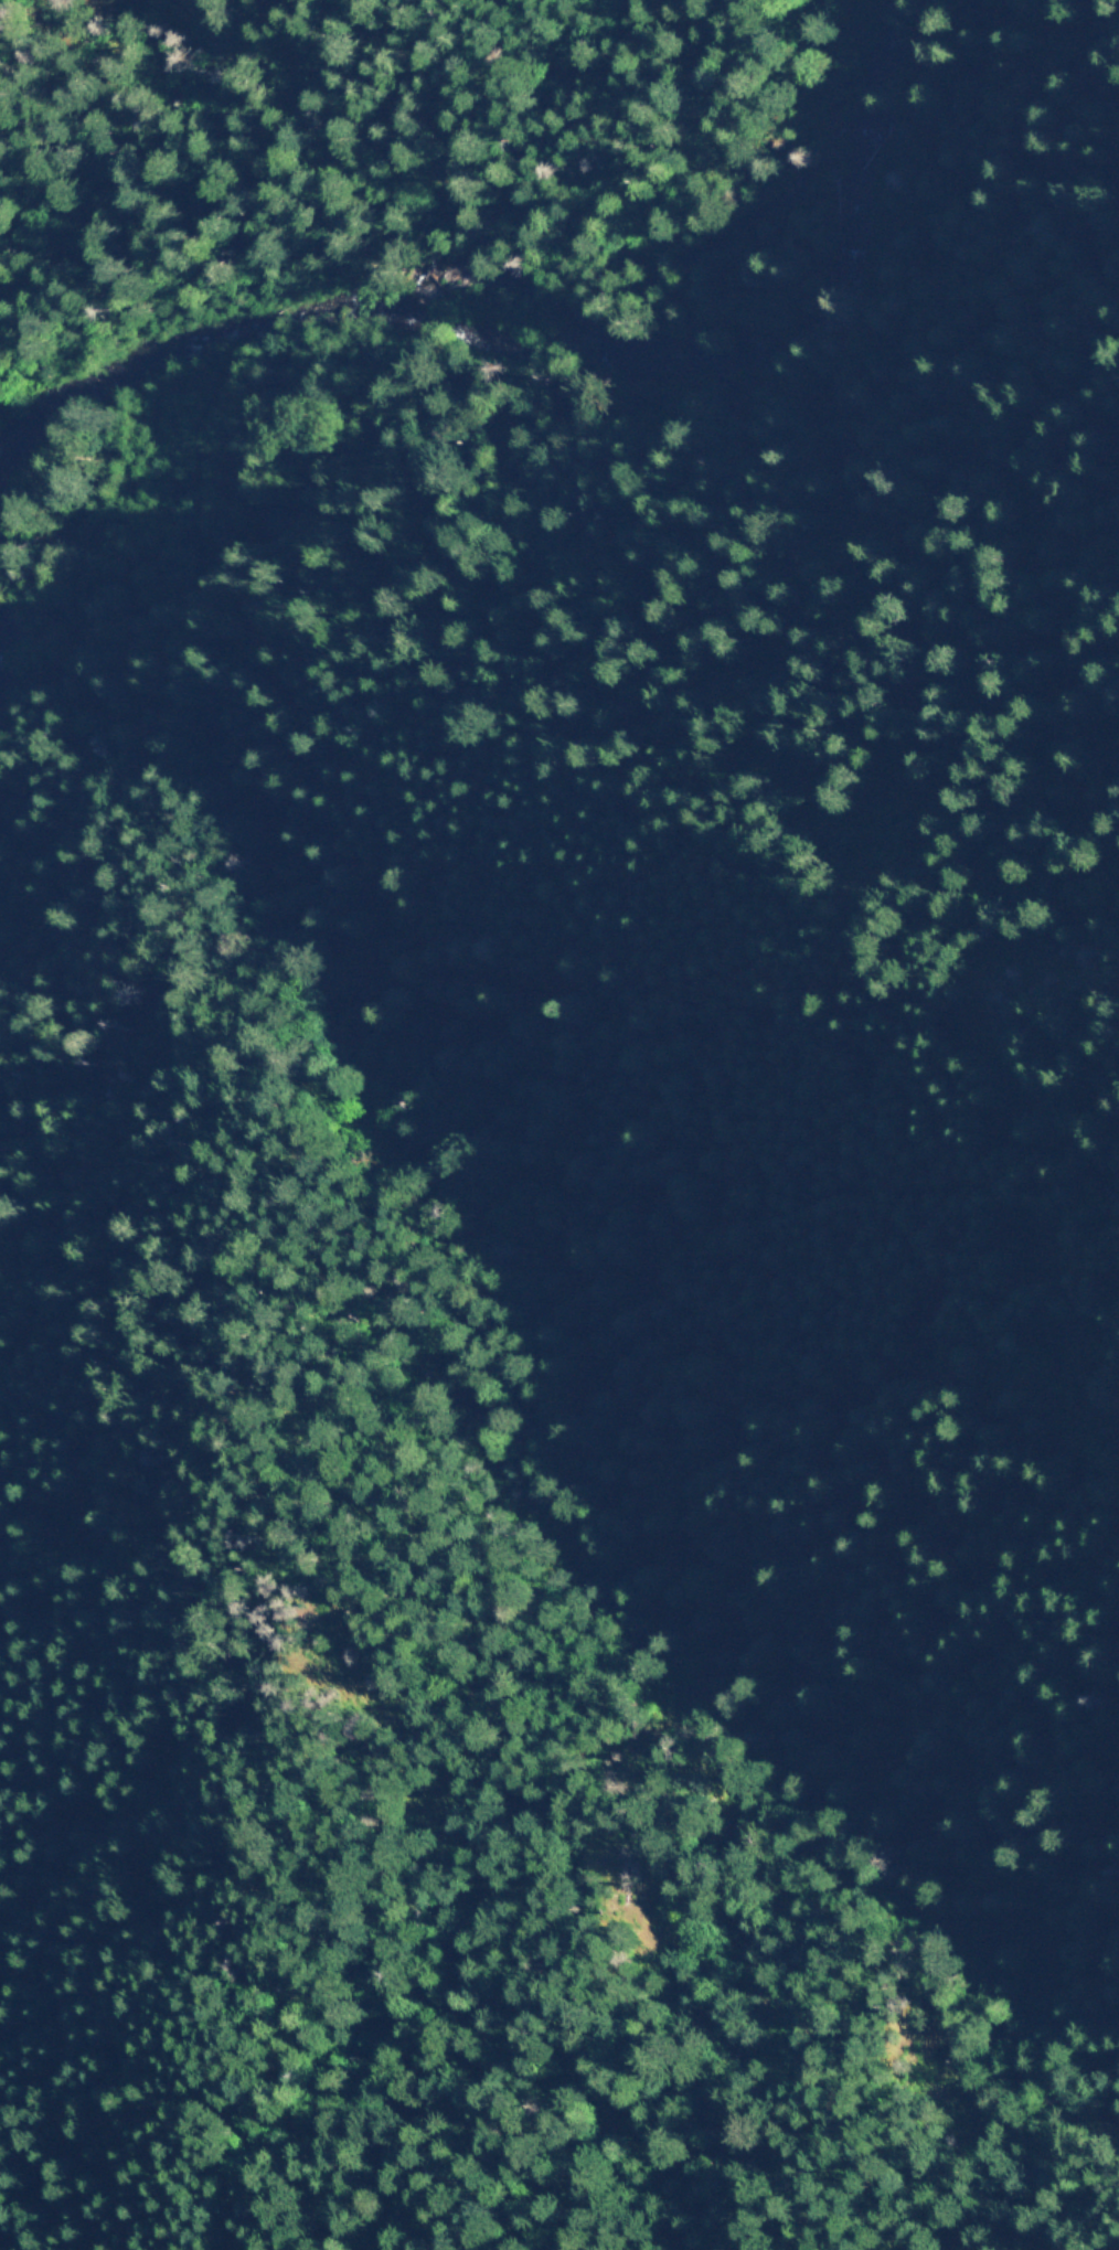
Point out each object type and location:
river: (547, 313)
road: (225, 2131)

